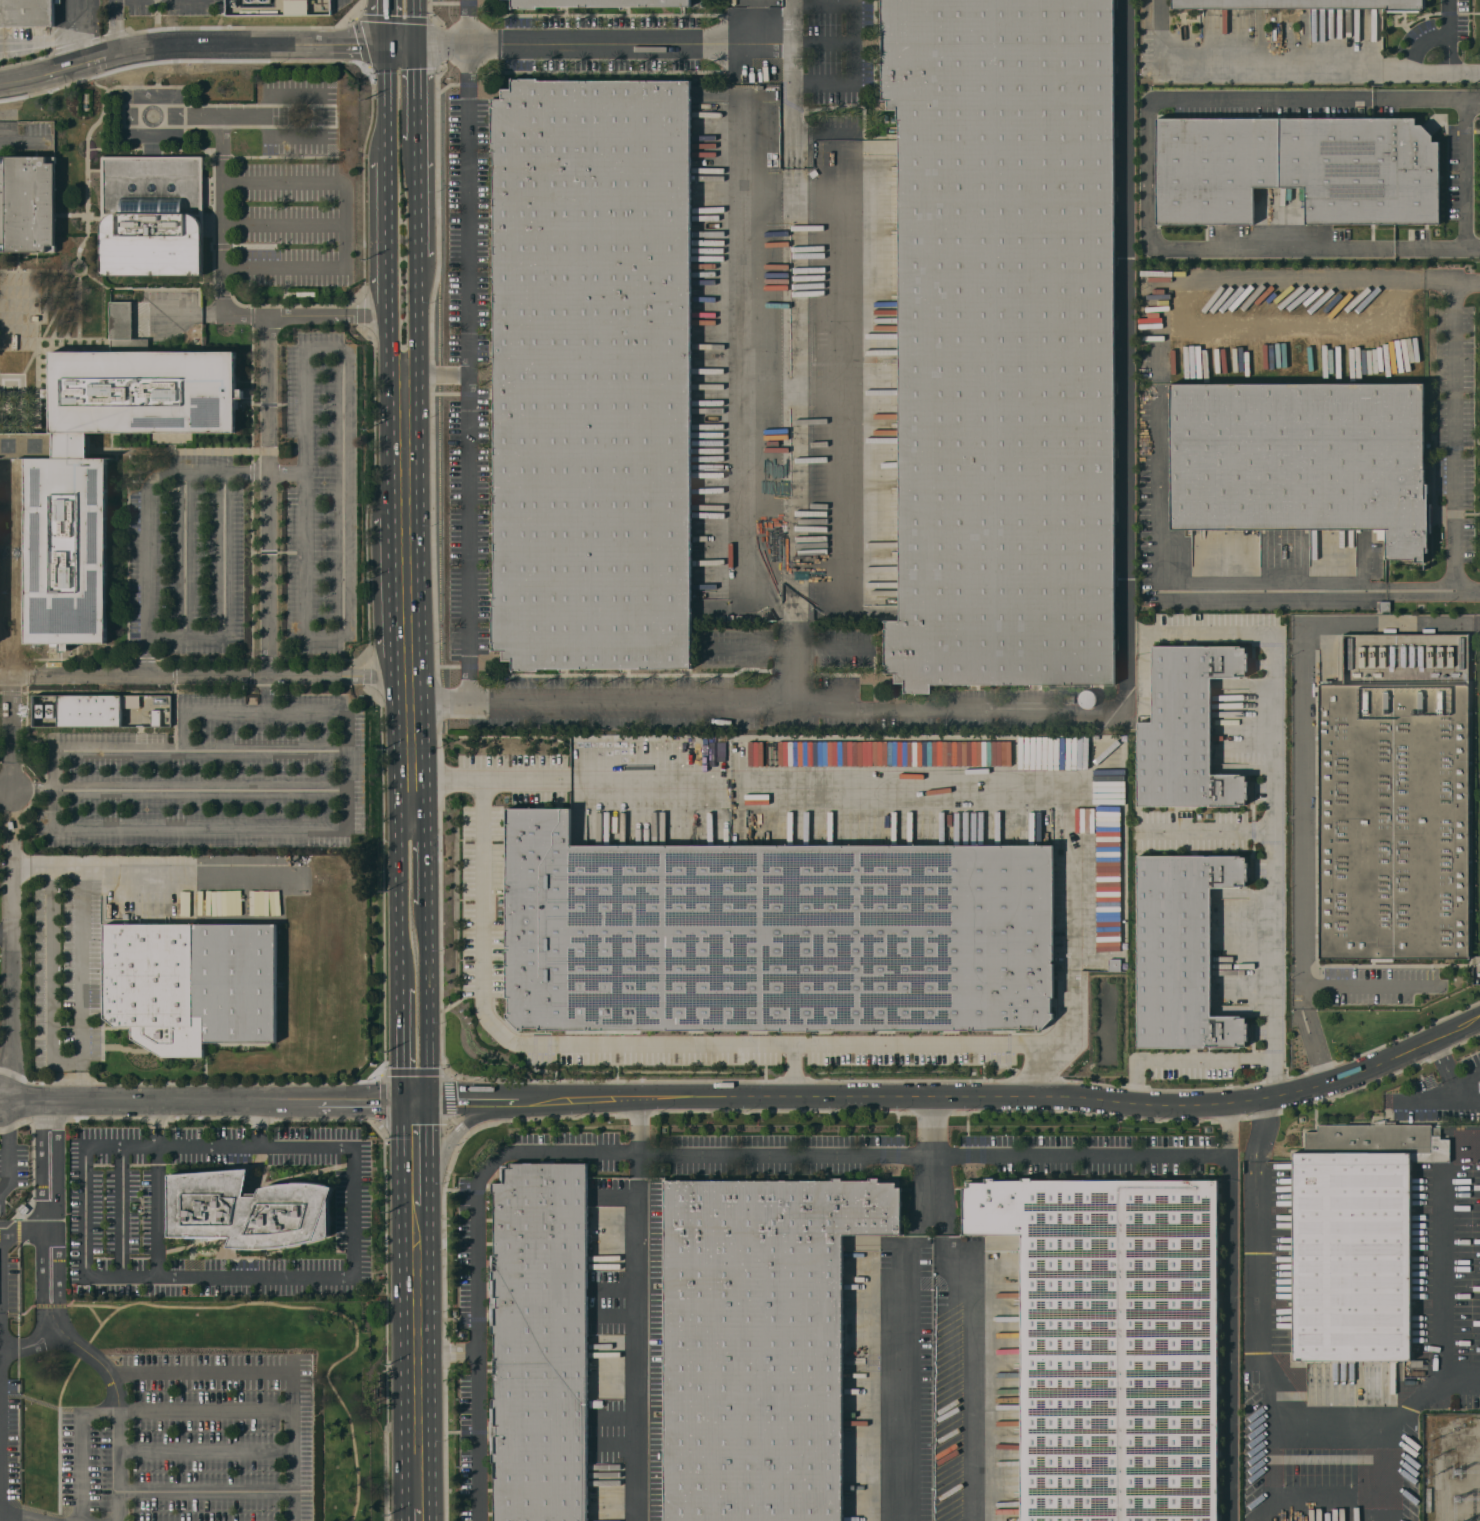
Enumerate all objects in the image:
building: (1309, 2)
building: (600, 4)
building: (264, 7)
building: (26, 13)
road: (416, 22)
road: (469, 22)
road: (386, 23)
road: (790, 23)
road: (115, 28)
road: (75, 33)
road: (38, 43)
road: (822, 43)
road: (855, 43)
traffic signals: (417, 45)
road: (588, 45)
road: (196, 46)
traffic signals: (387, 46)
road: (1453, 53)
road: (1242, 61)
road: (1412, 61)
road: (132, 70)
road: (1395, 71)
road: (4, 85)
road: (162, 93)
road: (416, 94)
road: (387, 101)
road: (791, 101)
road: (3, 111)
road: (142, 130)
road: (416, 163)
road: (1148, 171)
building: (1298, 171)
road: (1464, 172)
building: (28, 204)
building: (152, 215)
road: (418, 221)
road: (342, 224)
road: (387, 233)
road: (222, 281)
building: (124, 326)
building: (996, 342)
road: (470, 370)
road: (445, 374)
building: (594, 376)
road: (265, 394)
road: (390, 403)
road: (1158, 433)
road: (1455, 435)
building: (1307, 459)
building: (101, 469)
road: (1127, 514)
road: (146, 517)
road: (393, 518)
road: (303, 545)
road: (265, 574)
building: (1384, 606)
road: (394, 608)
road: (792, 649)
road: (215, 676)
road: (424, 680)
road: (266, 694)
road: (615, 696)
building: (1067, 698)
building: (1087, 699)
storage tank: (1087, 699)
building: (93, 709)
road: (265, 712)
building: (155, 717)
road: (1303, 724)
building: (1186, 729)
road: (12, 733)
road: (201, 753)
building: (537, 759)
road: (412, 778)
road: (1275, 795)
building: (1396, 795)
road: (12, 797)
road: (12, 809)
road: (320, 827)
road: (1207, 828)
road: (398, 829)
road: (47, 865)
road: (141, 871)
road: (6, 934)
building: (774, 935)
building: (1181, 952)
building: (1113, 965)
road: (11, 971)
road: (49, 972)
road: (79, 983)
building: (191, 984)
road: (1365, 984)
road: (1299, 1000)
road: (402, 1043)
road: (1039, 1044)
road: (1186, 1060)
road: (1318, 1061)
road: (1044, 1069)
road: (793, 1070)
road: (1457, 1088)
road: (1455, 1089)
road: (957, 1094)
road: (209, 1101)
traffic signals: (419, 1101)
road: (259, 1123)
road: (456, 1130)
road: (11, 1148)
road: (418, 1153)
road: (563, 1155)
road: (1082, 1155)
building: (248, 1210)
road: (123, 1212)
road: (156, 1212)
road: (25, 1228)
road: (51, 1254)
building: (1353, 1259)
road: (1443, 1275)
road: (260, 1278)
road: (635, 1309)
road: (1230, 1311)
road: (959, 1335)
road: (3, 1341)
building: (545, 1344)
building: (760, 1345)
building: (1117, 1347)
road: (448, 1350)
road: (415, 1355)
road: (92, 1356)
road: (906, 1356)
building: (1417, 1362)
road: (197, 1372)
road: (208, 1410)
road: (1328, 1417)
road: (82, 1444)
road: (0, 1448)
road: (208, 1450)
parking lot: (10, 1452)
road: (1266, 1453)
parking lot: (196, 1455)
road: (120, 1459)
road: (296, 1465)
power substation: (1452, 1467)
road: (208, 1493)
road: (415, 1513)
road: (21, 1517)

